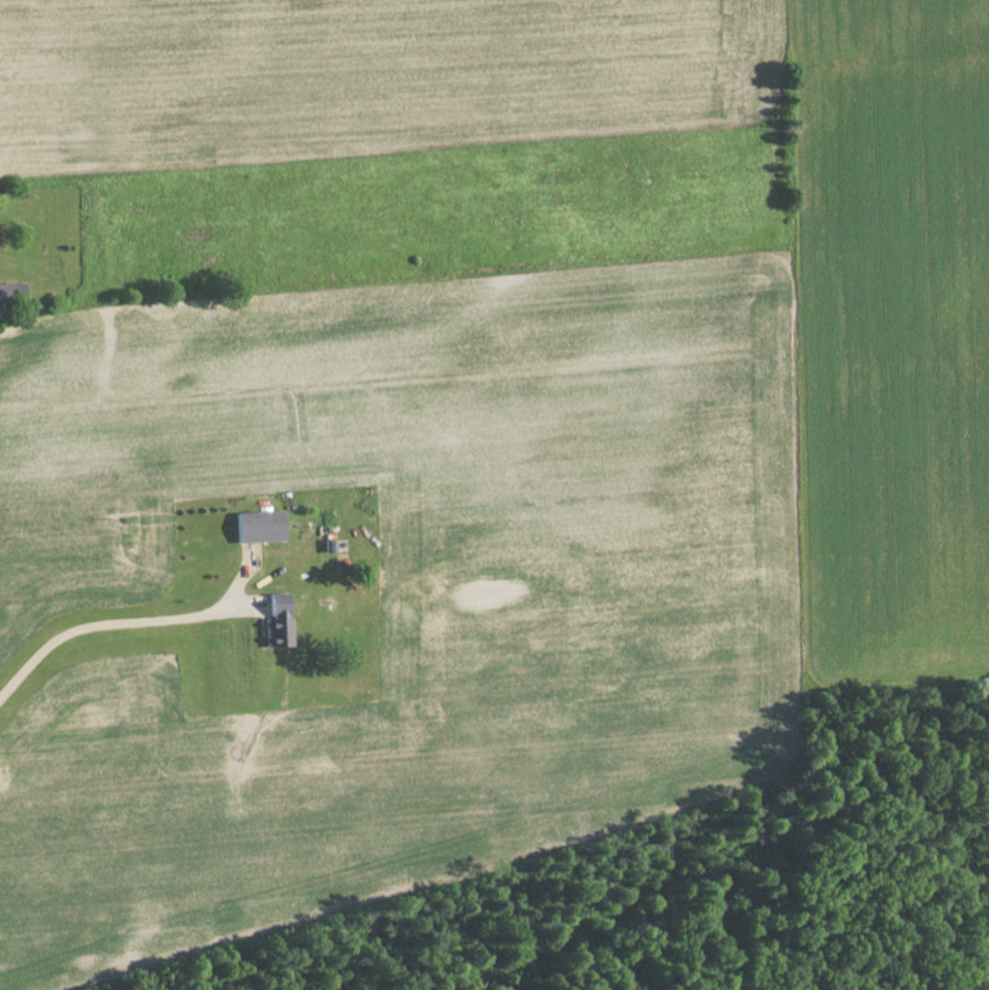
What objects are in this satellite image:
building: (11, 294)
building: (258, 527)
building: (276, 621)

